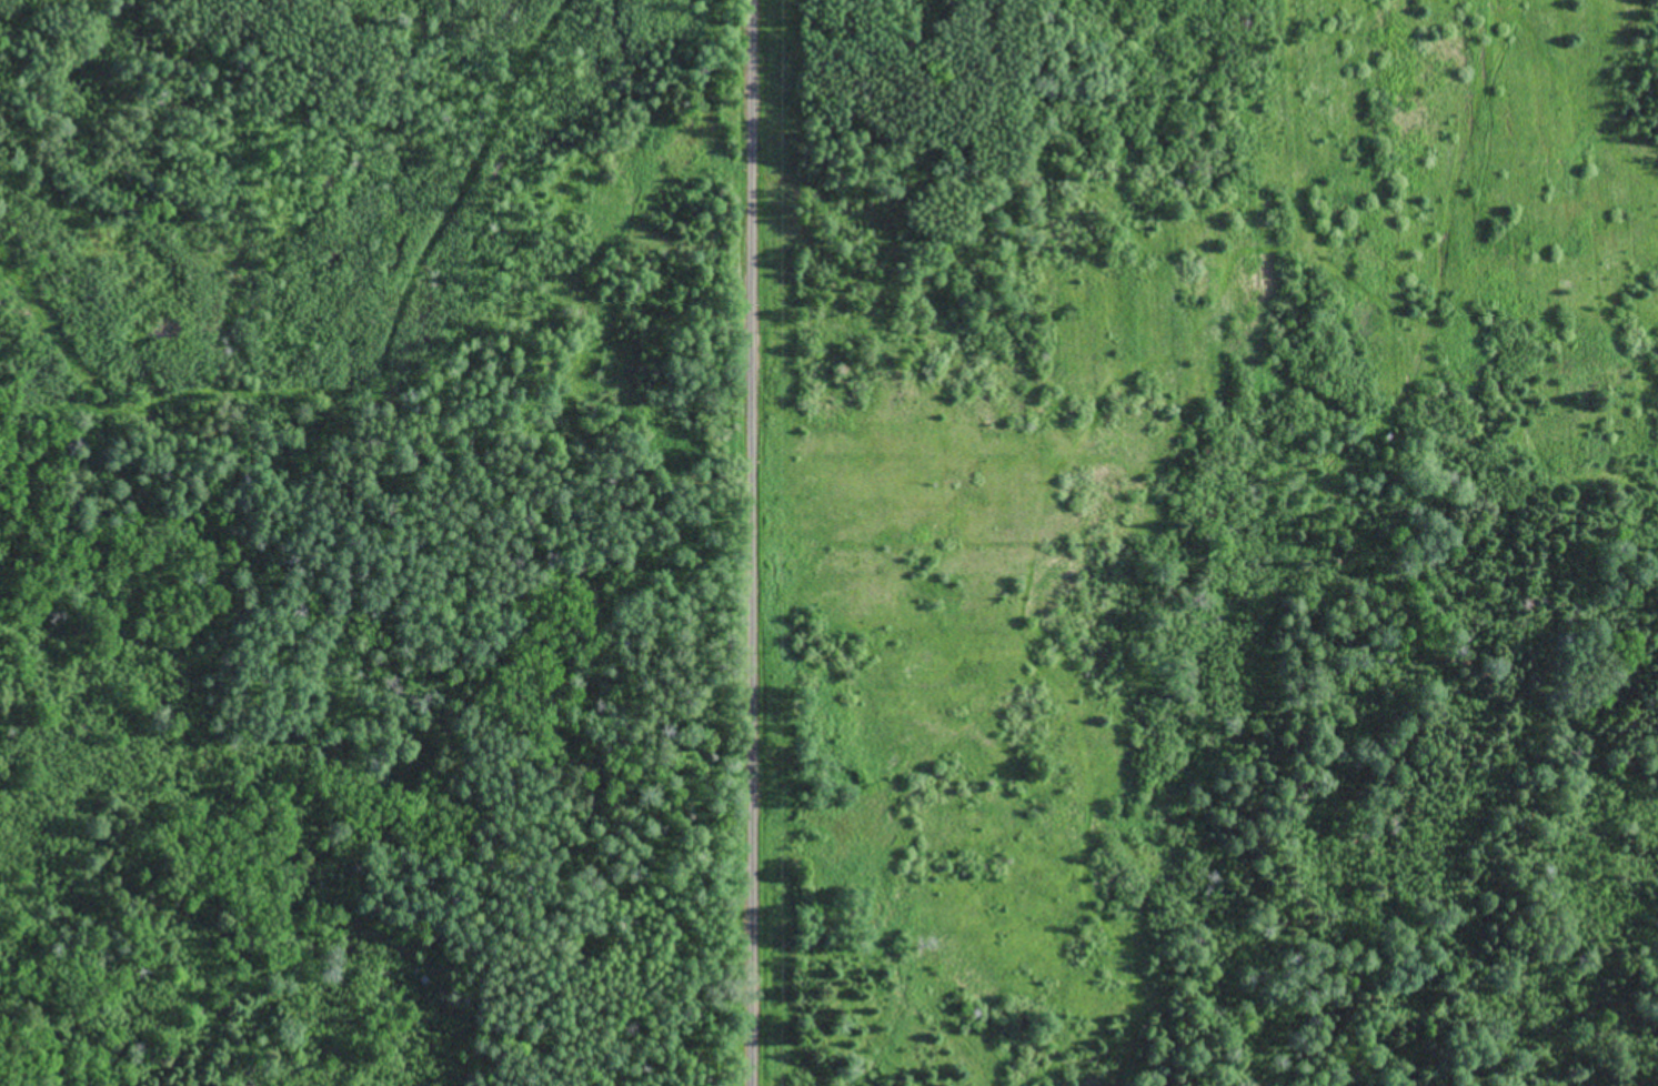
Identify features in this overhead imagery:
road: (751, 543)

